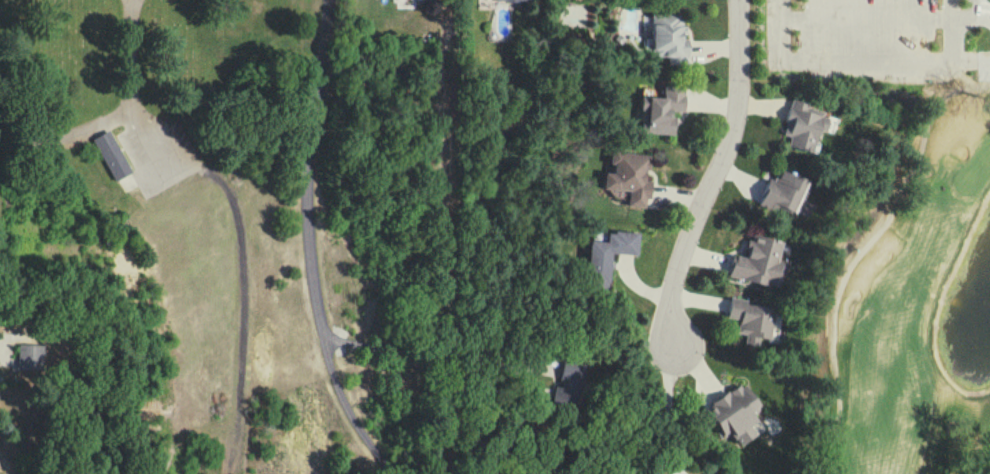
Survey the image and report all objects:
building: (514, 1)
parking lot: (887, 1)
building: (669, 39)
road: (869, 57)
road: (105, 107)
building: (661, 111)
park: (136, 119)
building: (804, 126)
building: (112, 156)
road: (713, 177)
building: (628, 178)
building: (783, 192)
road: (311, 245)
park: (898, 245)
building: (607, 257)
building: (758, 263)
building: (752, 320)
road: (3, 334)
road: (106, 345)
building: (30, 357)
road: (435, 357)
building: (568, 385)
road: (668, 411)
building: (737, 414)

